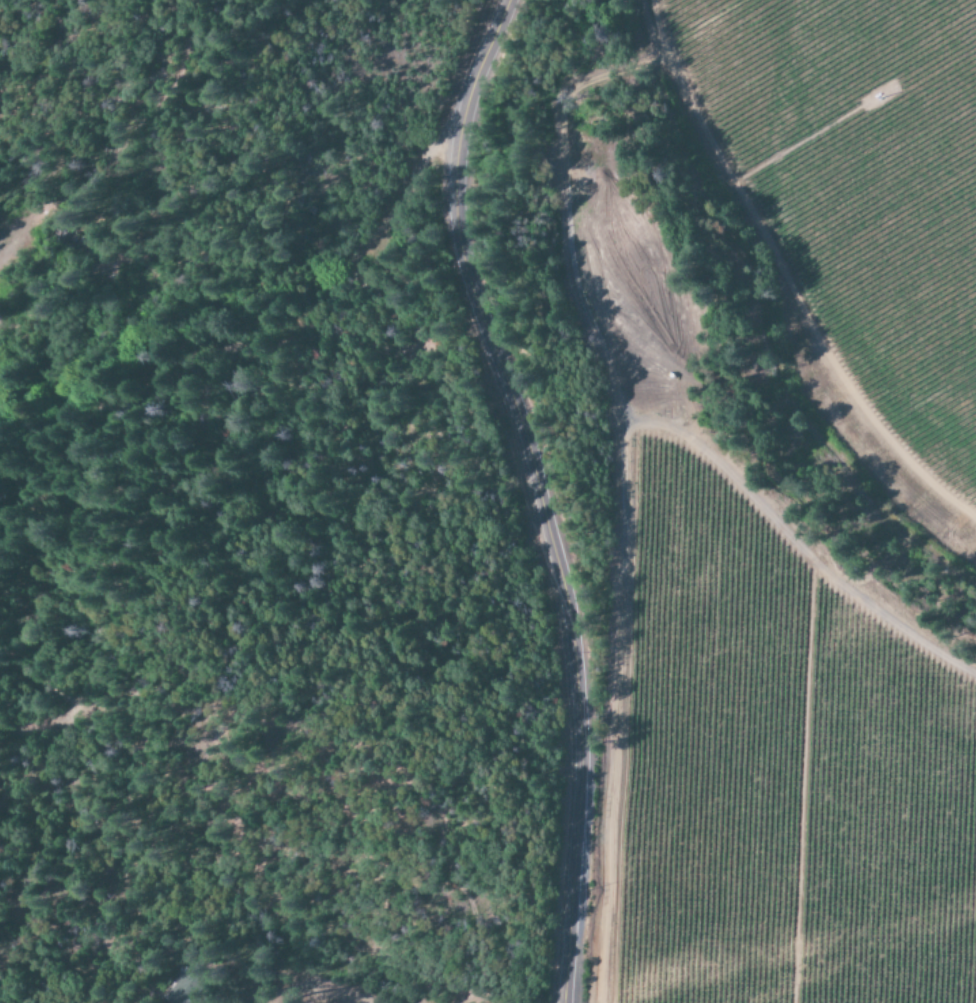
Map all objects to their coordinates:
road: (250, 302)
road: (538, 493)
building: (184, 988)

